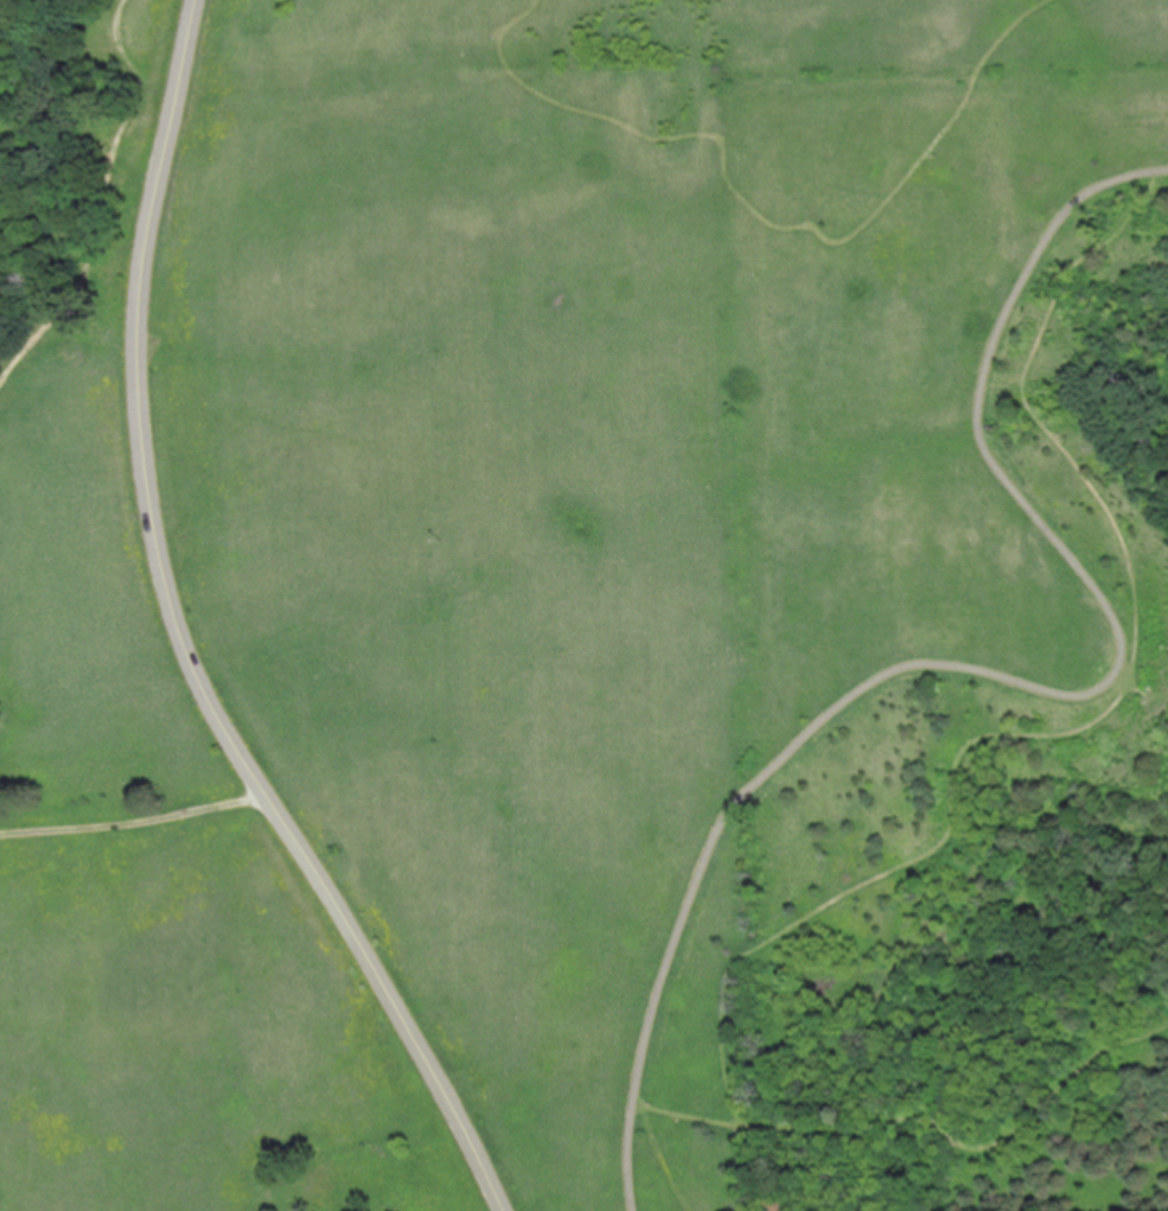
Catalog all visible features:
road: (102, 200)
road: (765, 219)
park: (583, 605)
road: (185, 642)
road: (1016, 682)
road: (1098, 719)
road: (136, 827)
road: (926, 1111)
road: (658, 1159)

